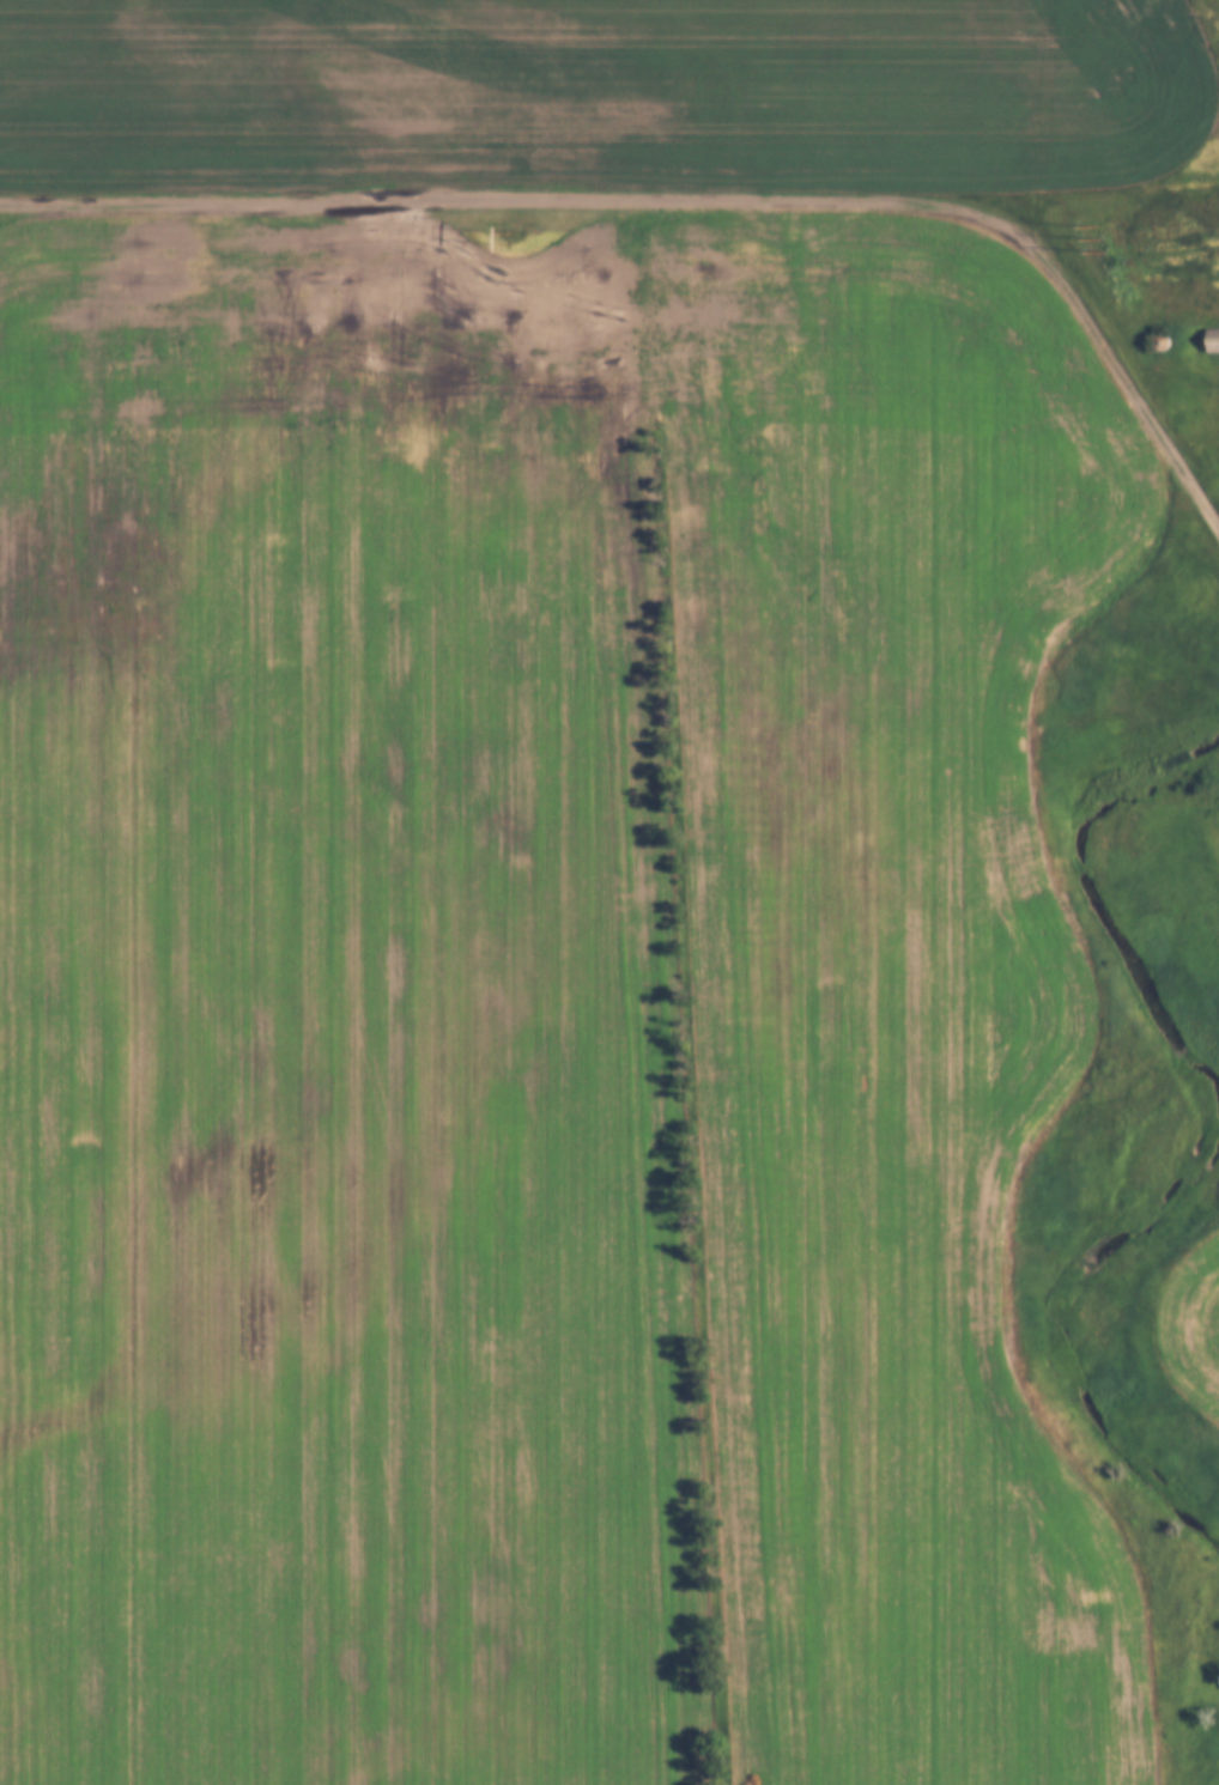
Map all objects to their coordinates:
road: (509, 187)
building: (1213, 339)
road: (1123, 362)

